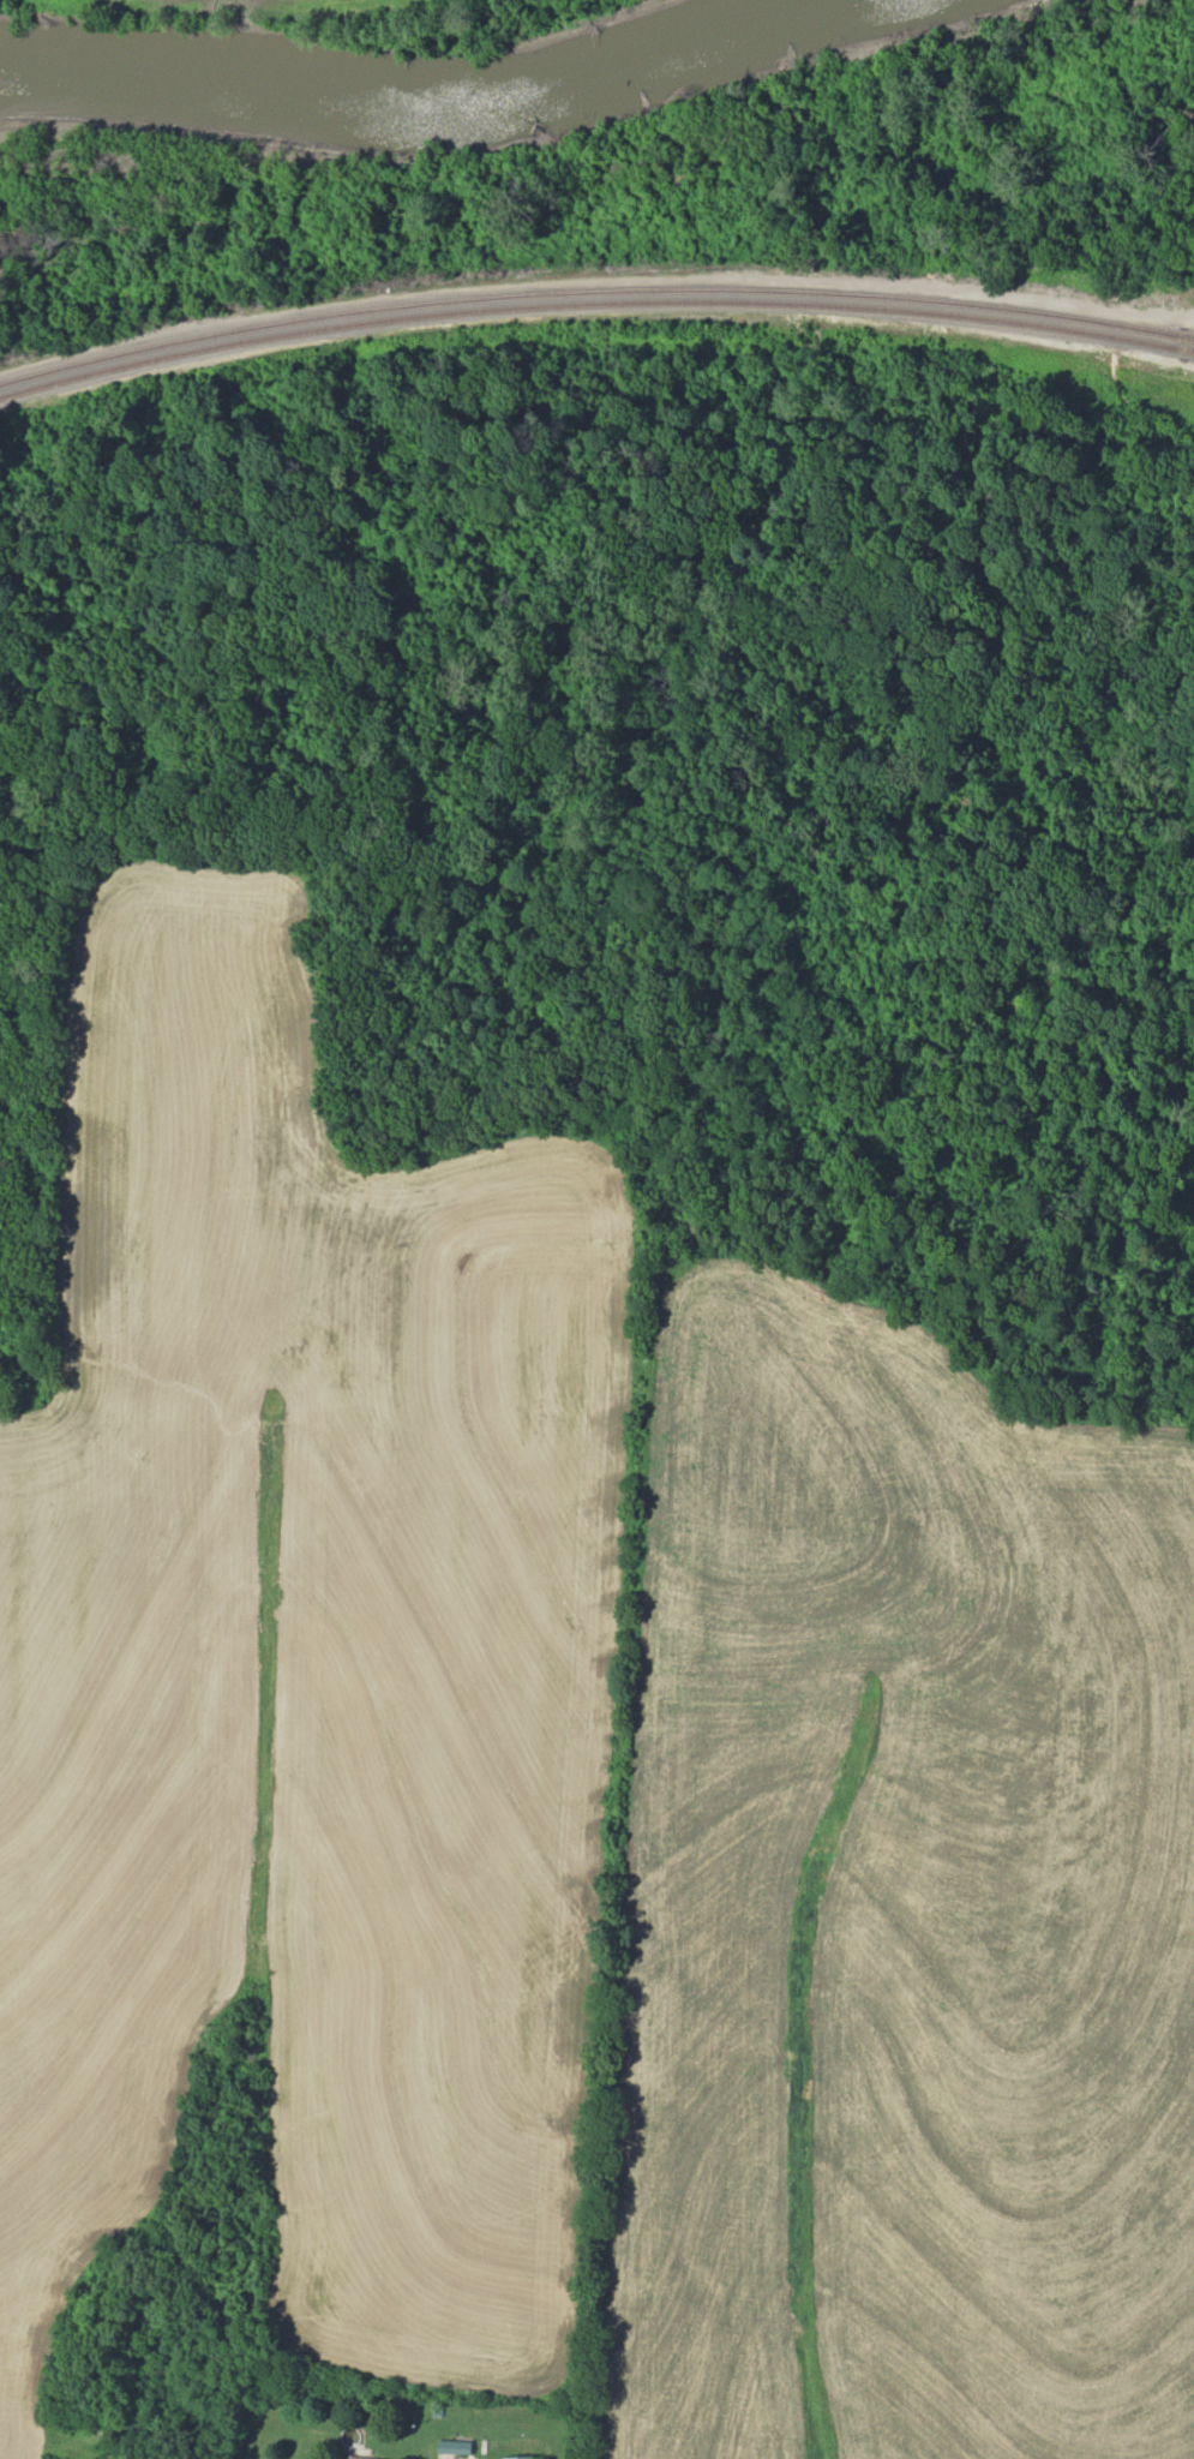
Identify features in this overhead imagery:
river: (449, 116)
railway: (594, 285)
railway: (594, 295)
crop: (308, 1662)
crop: (892, 1898)
building: (454, 2446)
building: (359, 2457)
building: (518, 2457)

